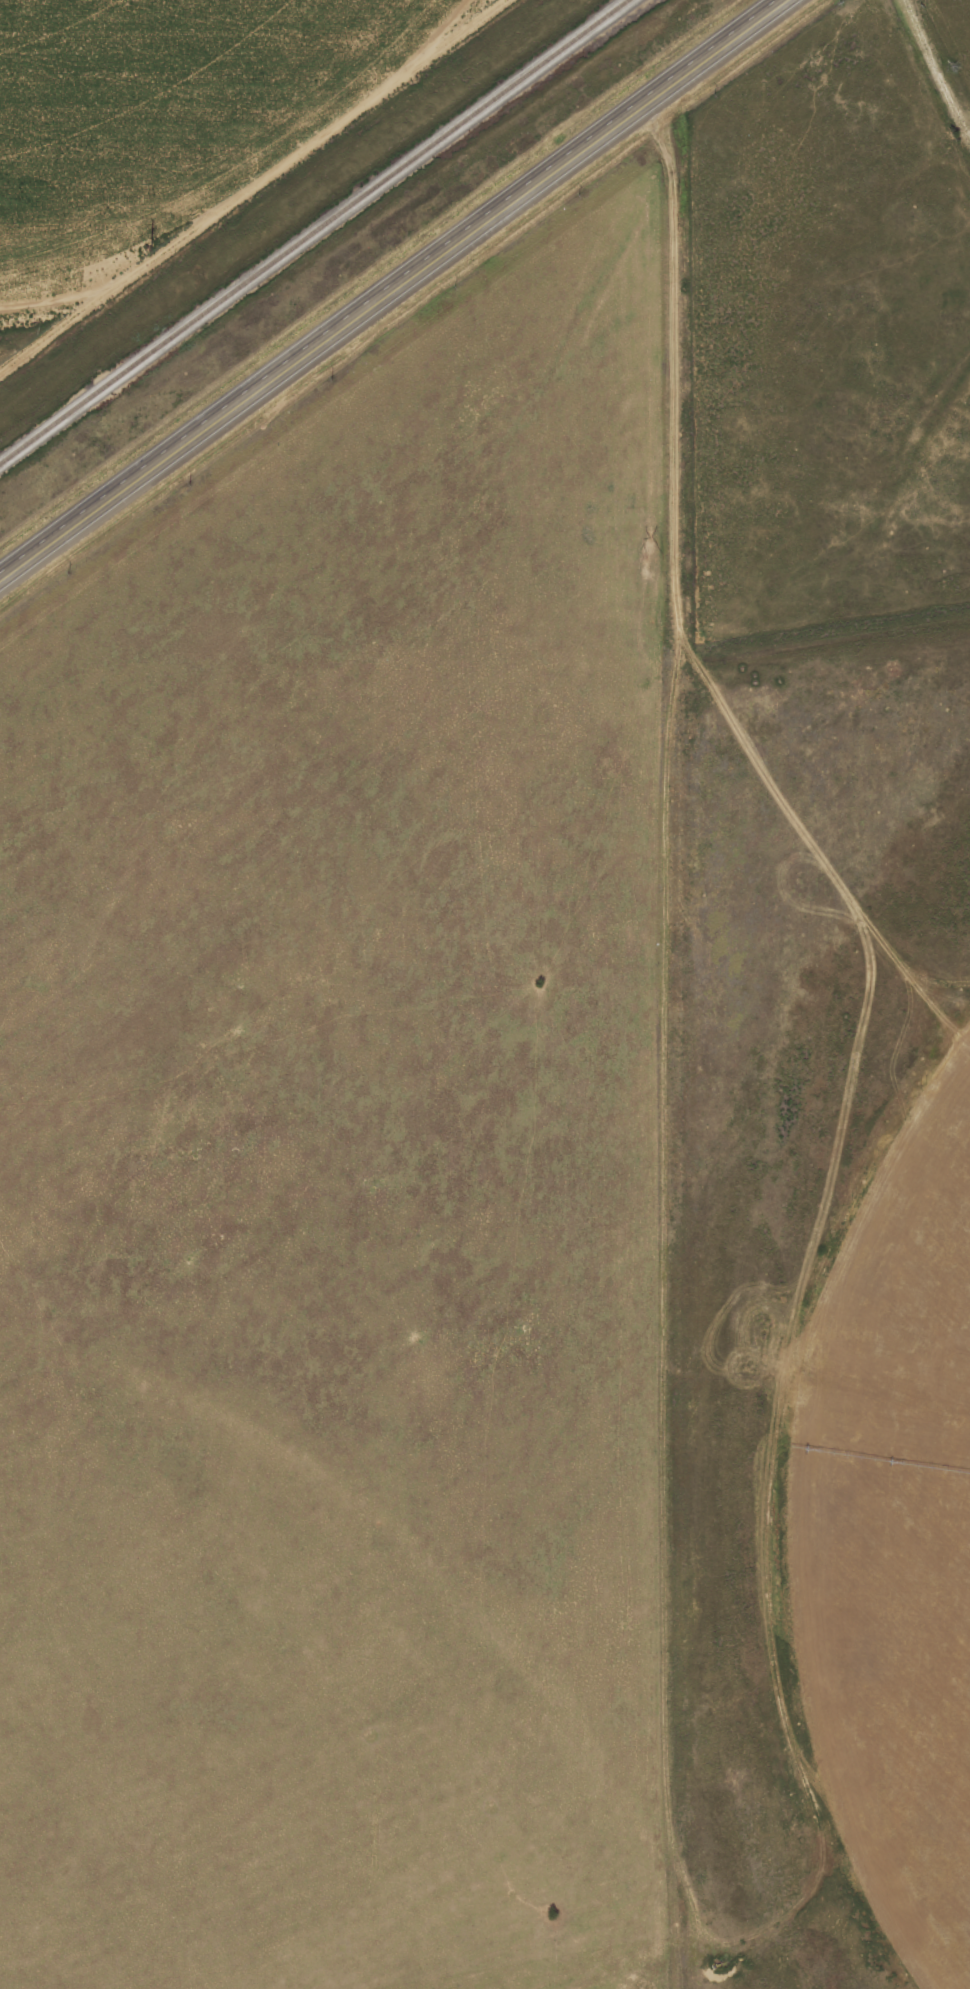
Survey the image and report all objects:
railway: (313, 232)
power tower: (150, 245)
road: (390, 288)

